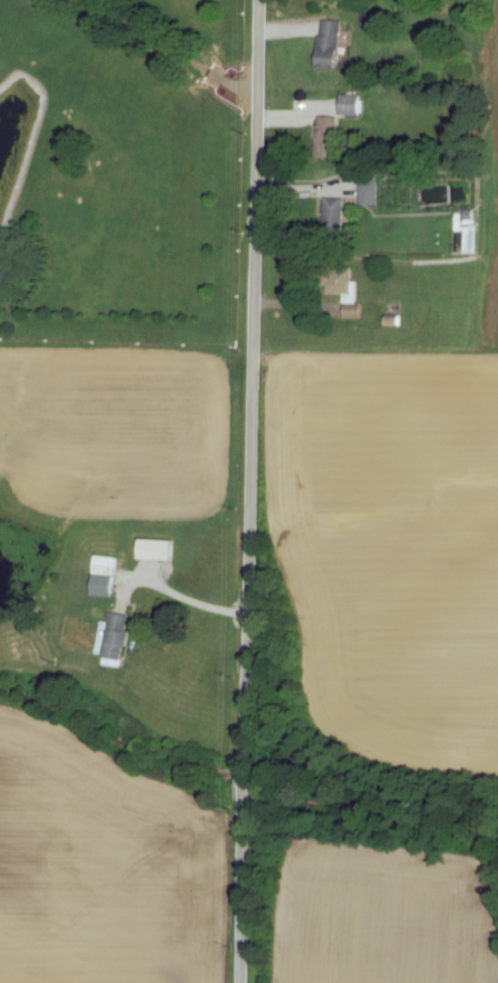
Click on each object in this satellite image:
building: (375, 19)
building: (334, 44)
road: (175, 49)
building: (355, 105)
building: (331, 136)
building: (371, 192)
building: (339, 214)
building: (351, 293)
road: (250, 491)
building: (161, 550)
building: (108, 576)
road: (194, 598)
building: (117, 637)

